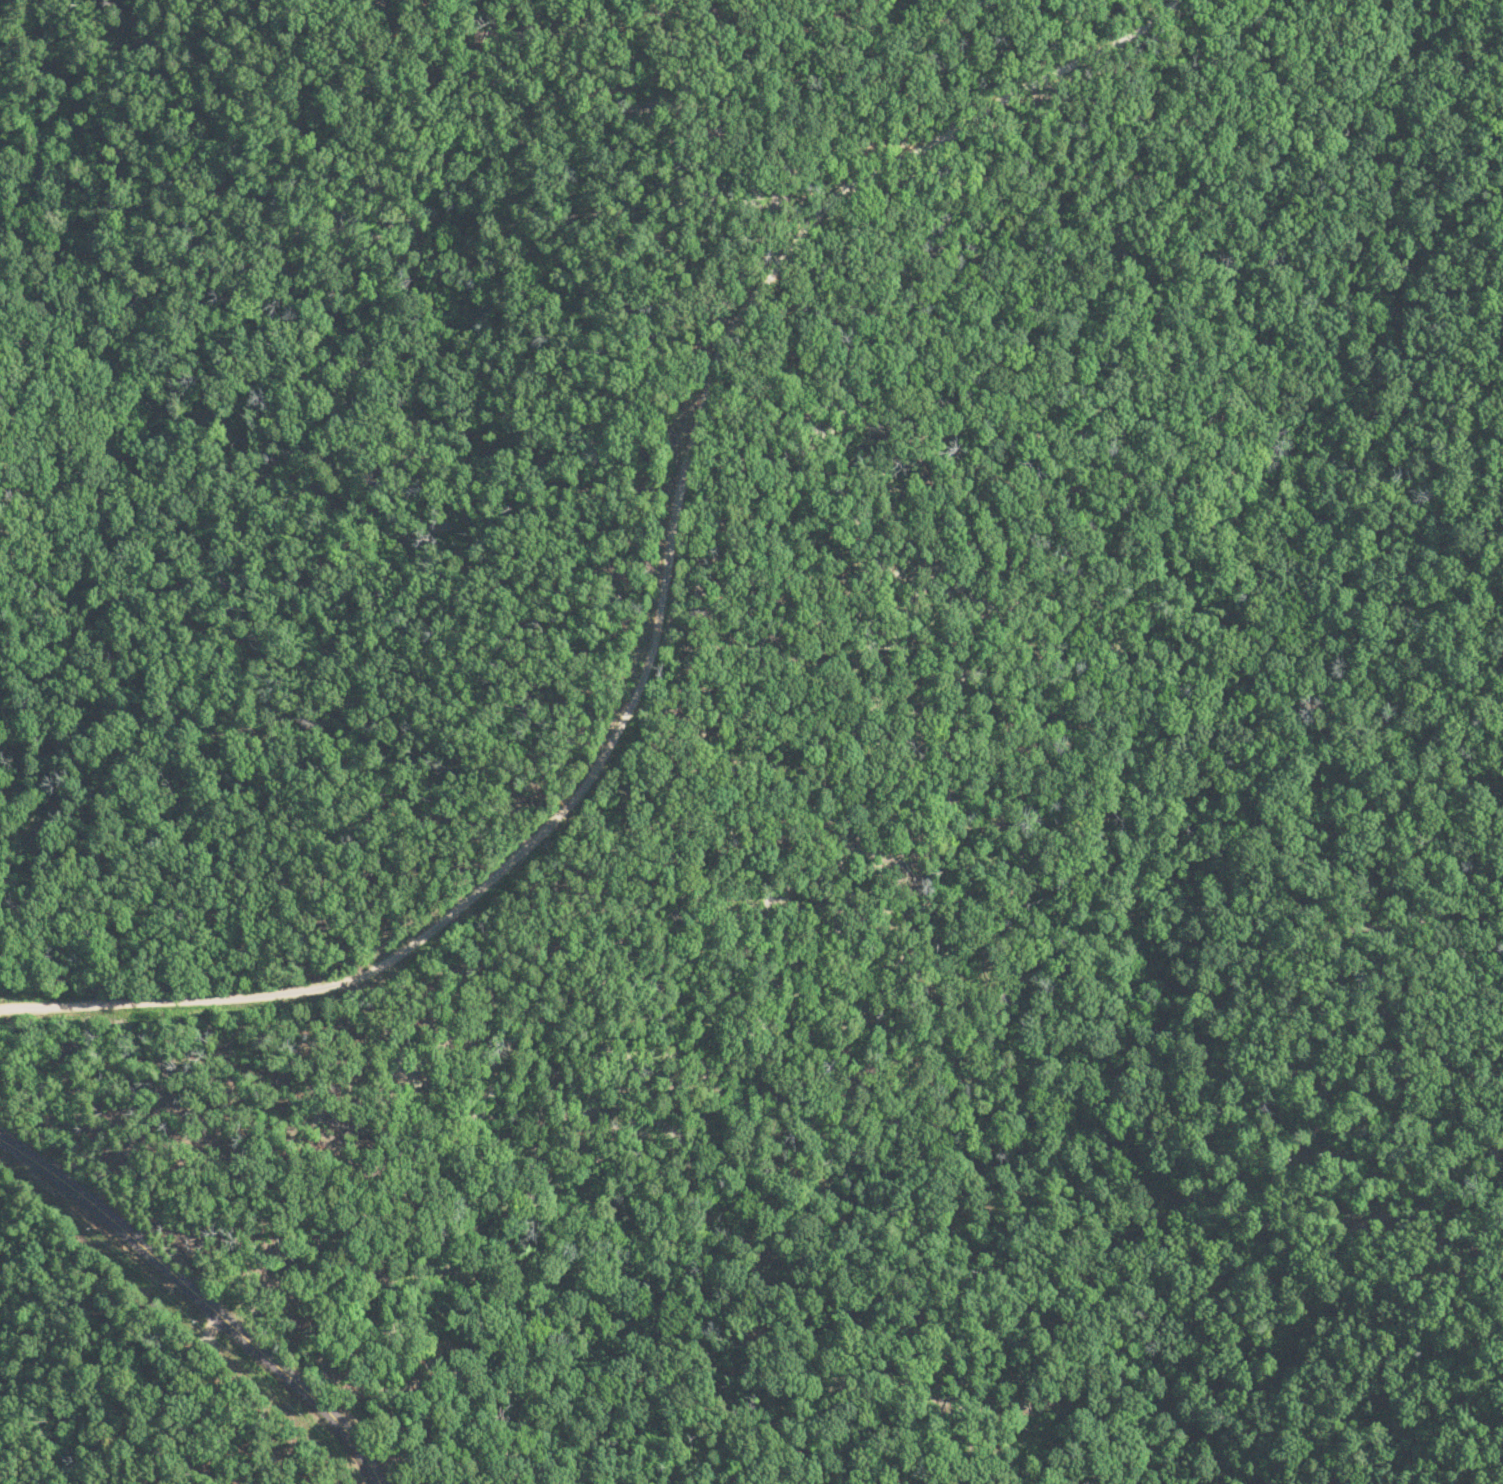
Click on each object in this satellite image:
road: (665, 613)
park: (655, 774)
road: (199, 1244)
road: (197, 1301)
road: (311, 1383)

